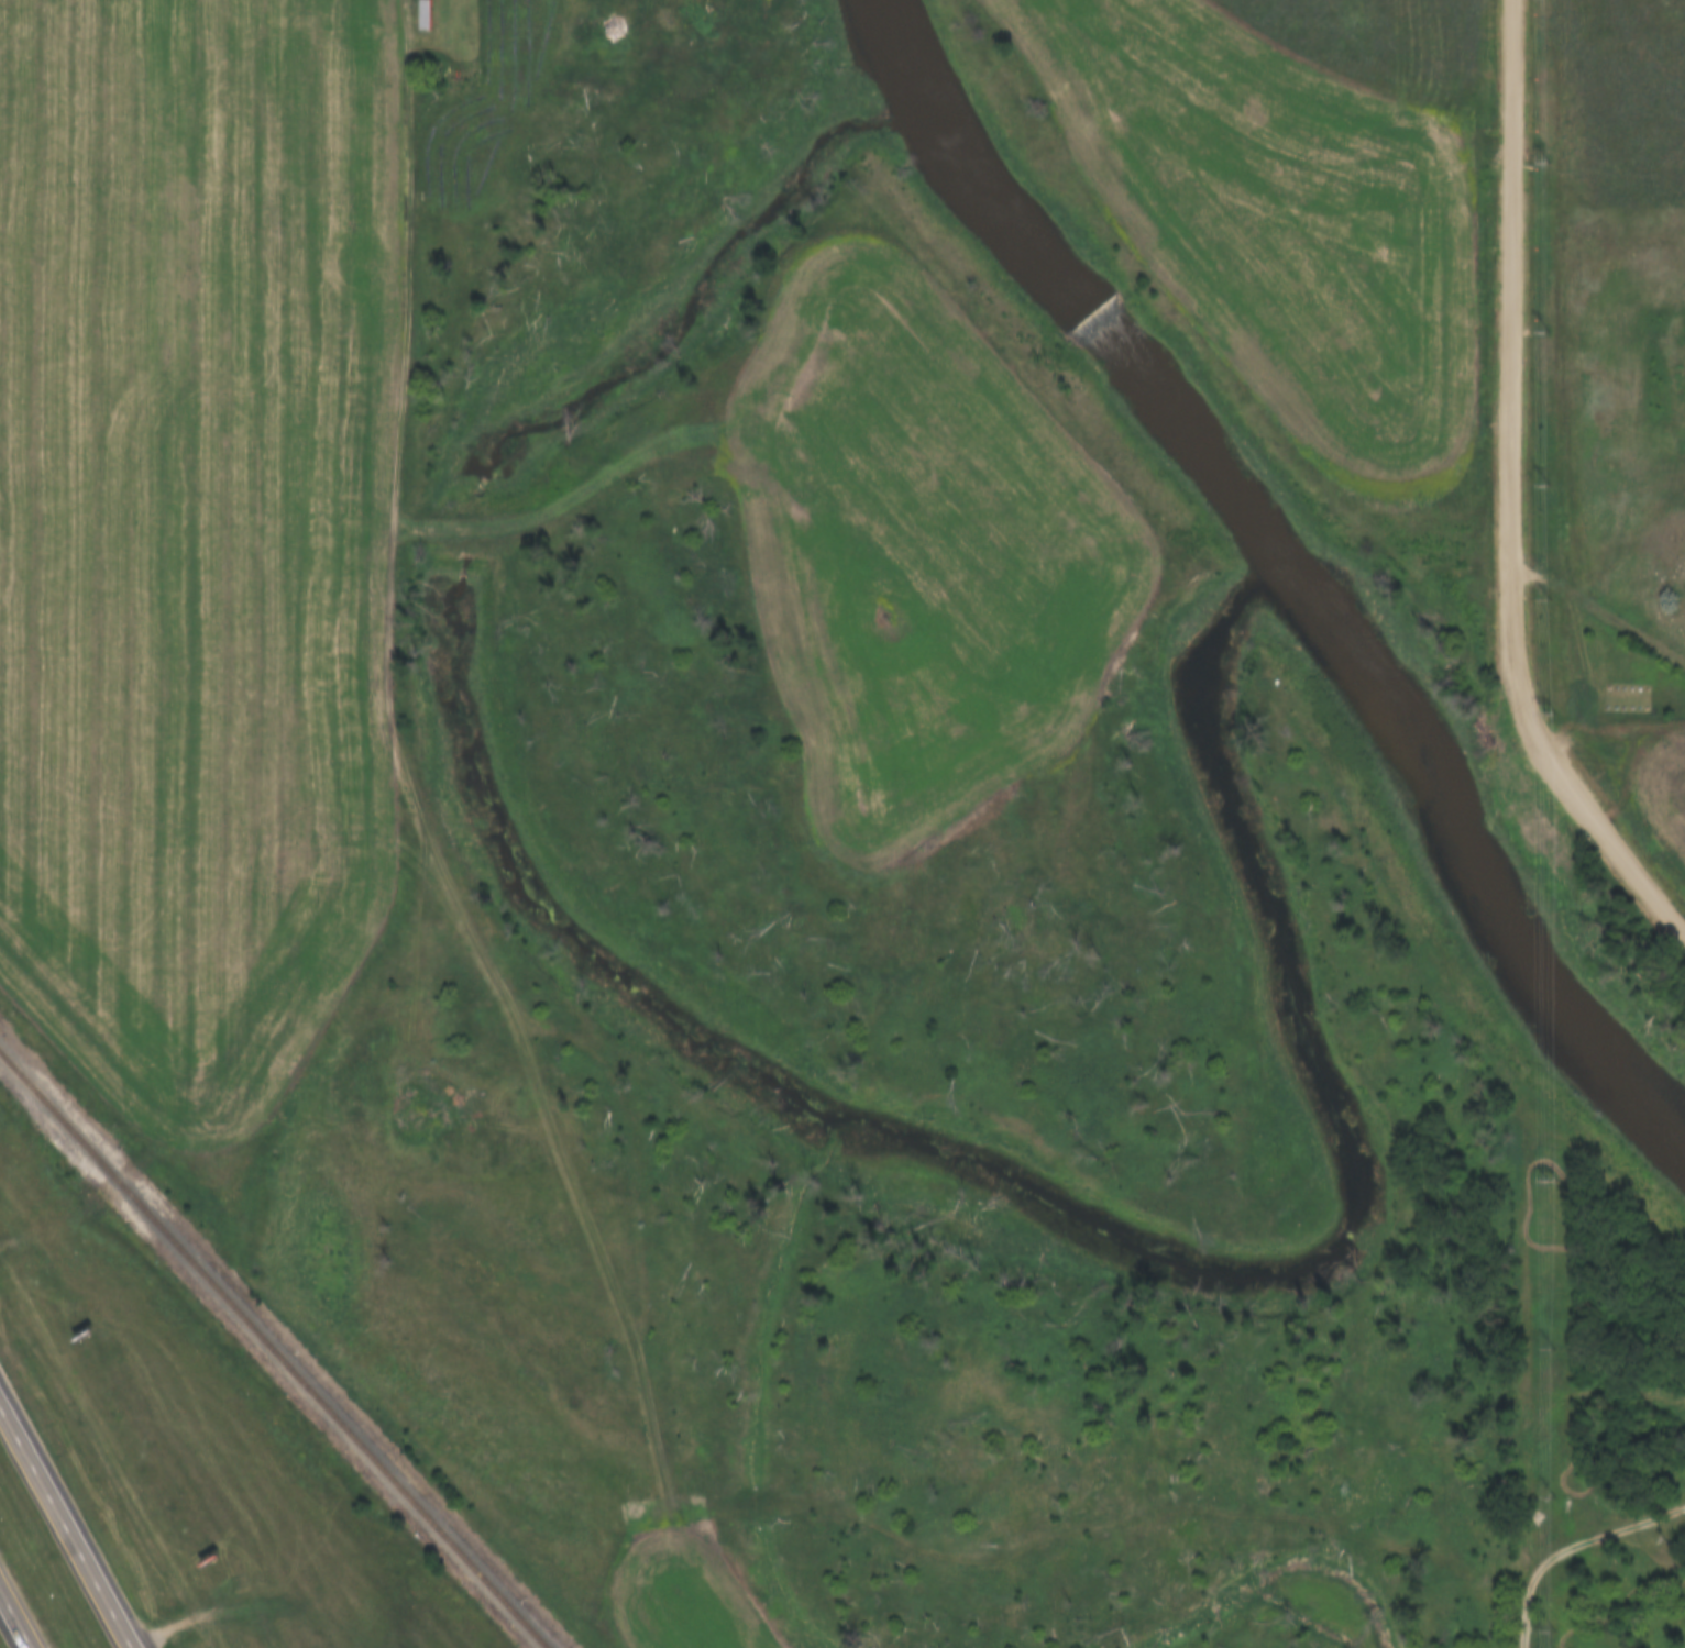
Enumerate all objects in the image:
building: (420, 14)
road: (1512, 397)
river: (1292, 567)
road: (1601, 608)
road: (1626, 860)
road: (89, 1206)
road: (1568, 1259)
railway: (273, 1350)
park: (1573, 1375)
road: (67, 1523)
road: (1598, 1533)
road: (1563, 1588)
road: (18, 1614)
road: (1521, 1614)
road: (1683, 1636)
road: (1557, 1647)

